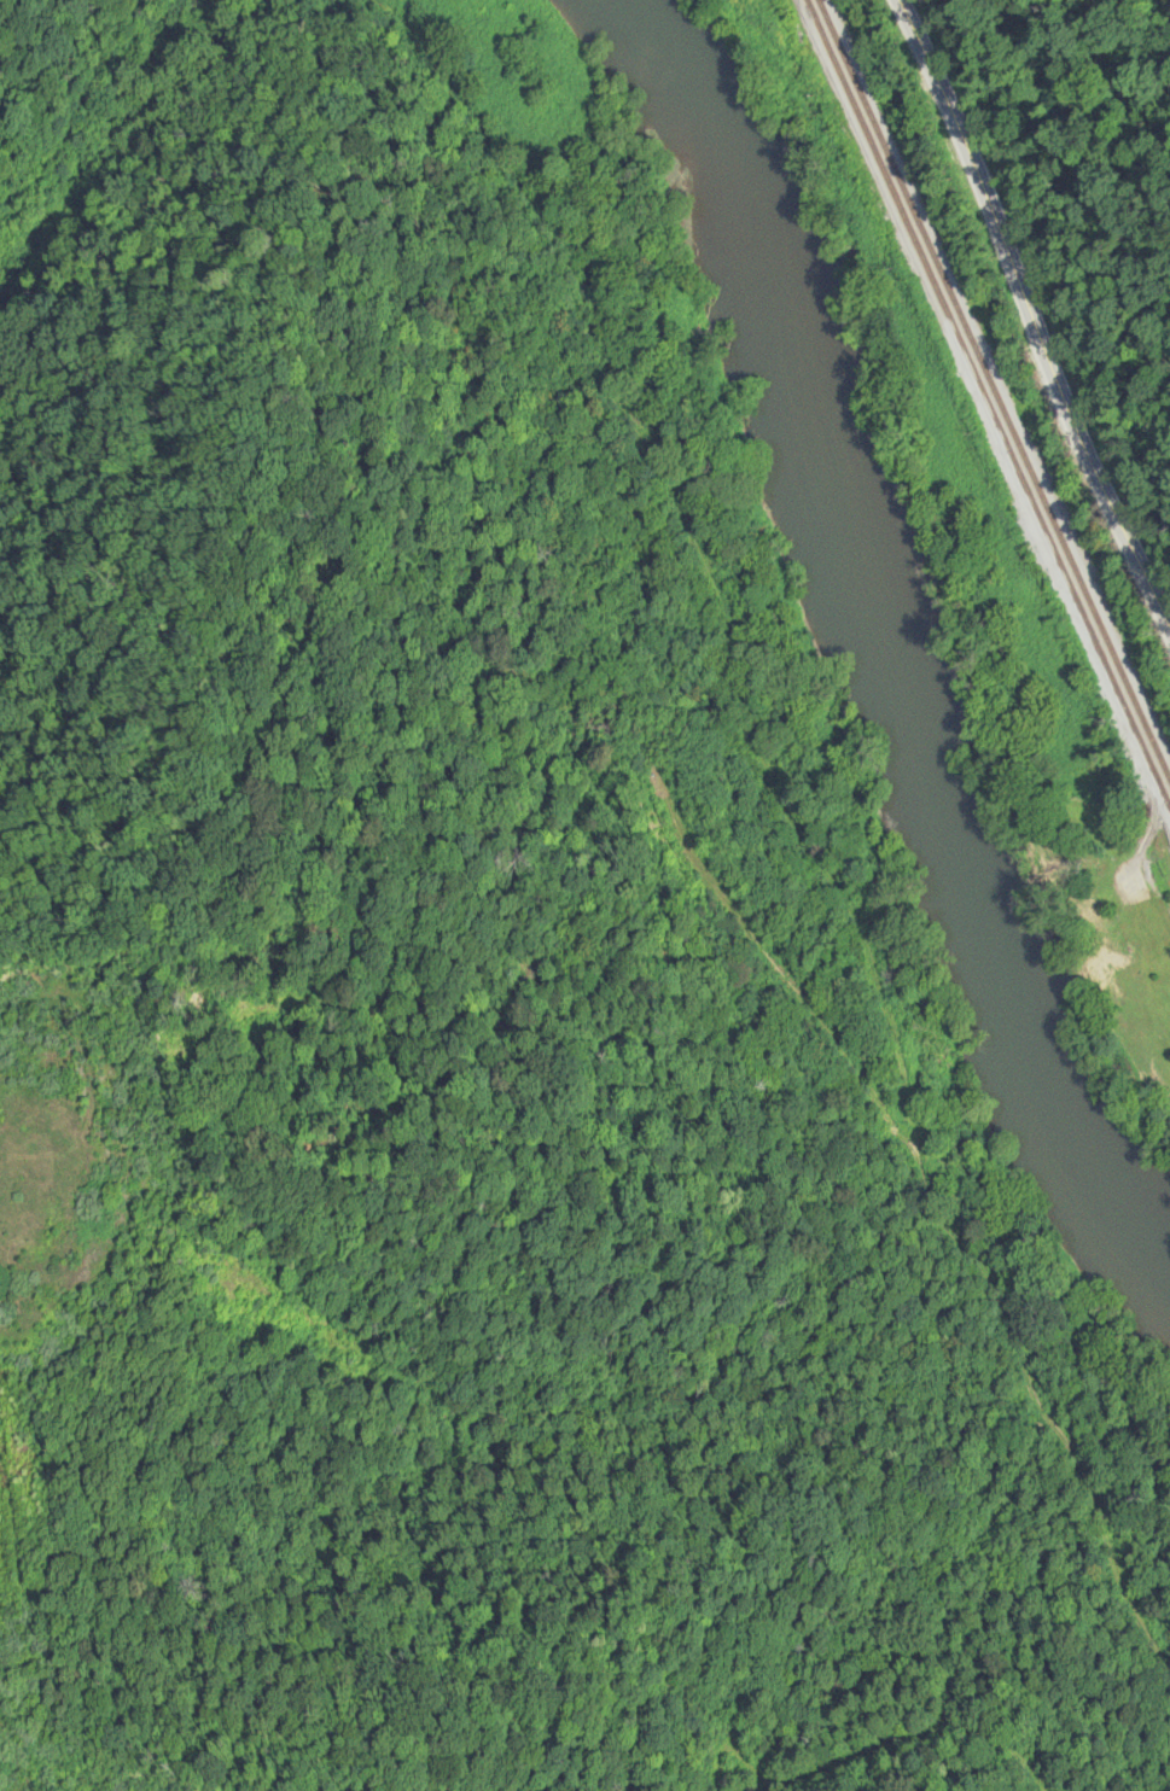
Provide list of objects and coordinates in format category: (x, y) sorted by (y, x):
road: (1032, 279)
railway: (988, 403)
river: (869, 659)
road: (733, 908)

